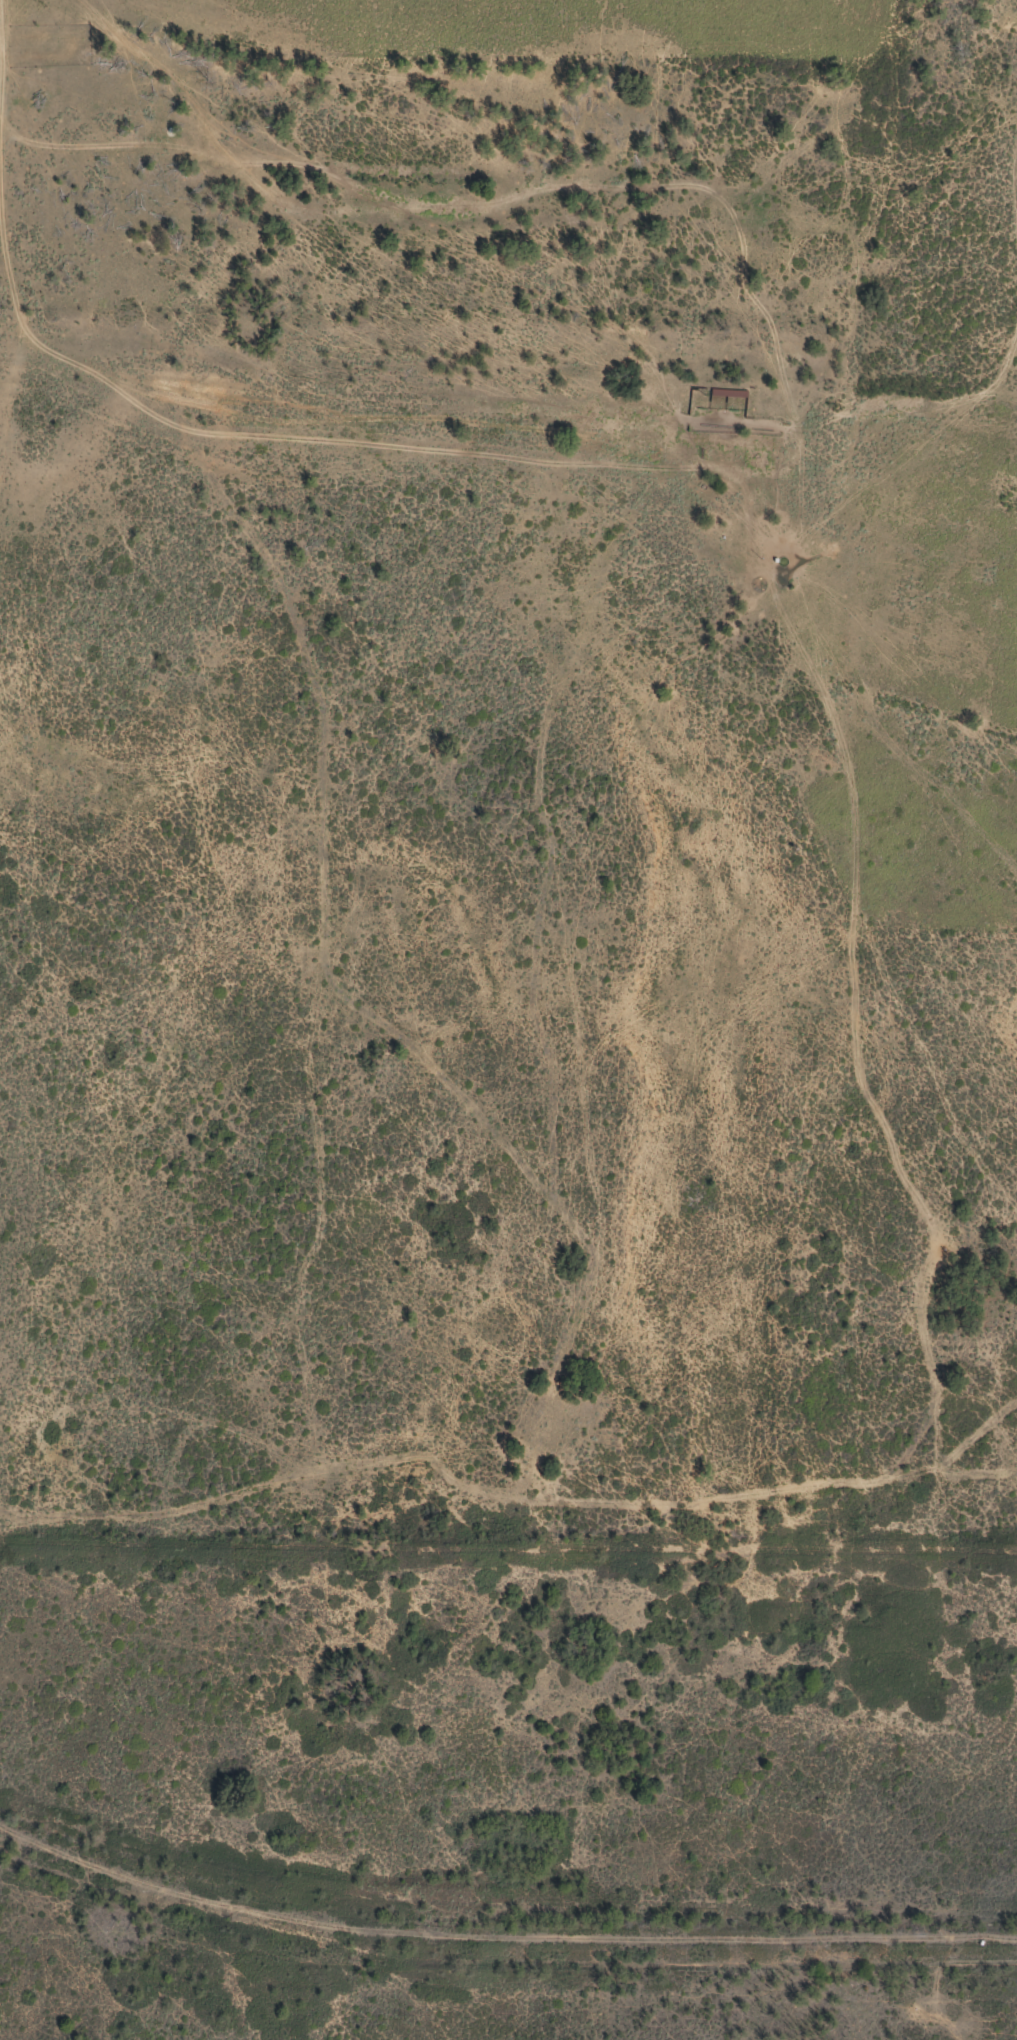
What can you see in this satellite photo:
building: (728, 392)

